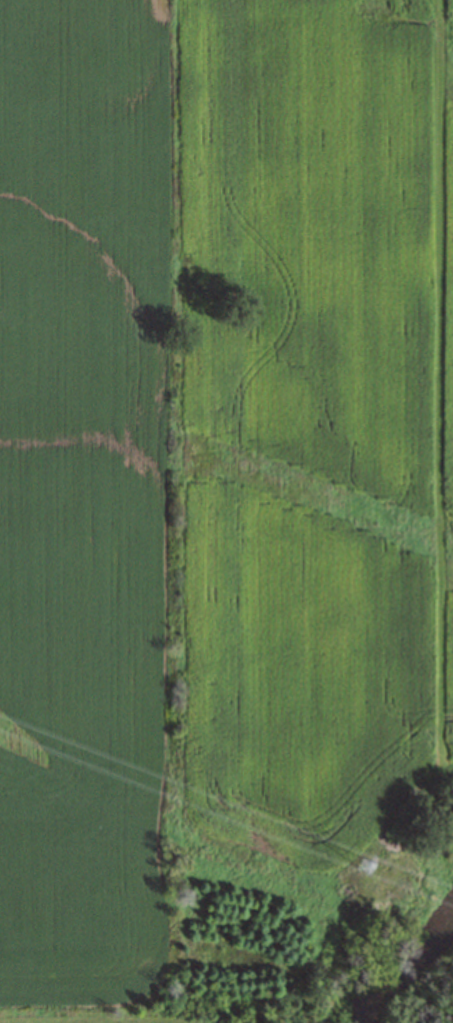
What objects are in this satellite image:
power tower: (363, 862)
river: (442, 1005)

